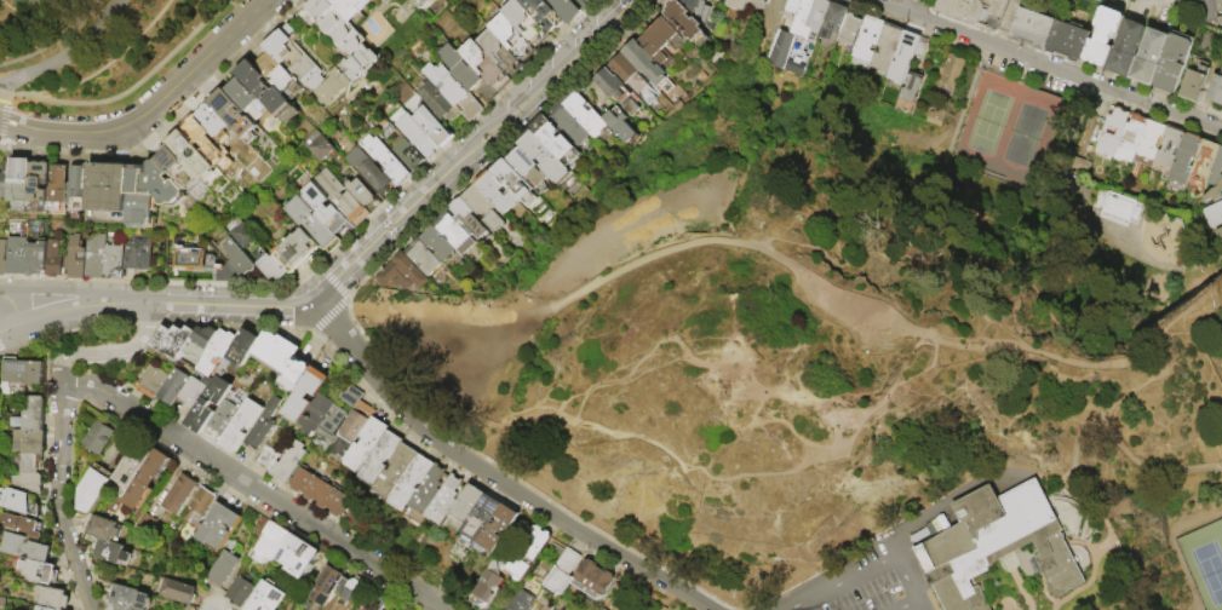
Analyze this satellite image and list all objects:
building: (1090, 0)
building: (1100, 0)
road: (8, 2)
building: (425, 4)
building: (738, 4)
building: (757, 4)
building: (698, 7)
road: (911, 7)
building: (350, 8)
building: (567, 8)
building: (790, 10)
building: (1195, 10)
building: (1207, 10)
building: (975, 11)
building: (1218, 11)
building: (543, 13)
building: (773, 13)
building: (524, 21)
building: (683, 21)
building: (832, 21)
building: (331, 24)
building: (1032, 29)
building: (849, 31)
building: (511, 35)
building: (796, 35)
building: (1101, 36)
road: (56, 41)
building: (1067, 41)
building: (662, 42)
building: (865, 42)
building: (885, 46)
park: (97, 50)
building: (1123, 50)
building: (498, 51)
road: (69, 54)
building: (905, 56)
building: (1147, 58)
road: (115, 59)
building: (296, 59)
building: (357, 62)
building: (1172, 63)
building: (483, 64)
road: (1044, 64)
building: (646, 65)
building: (950, 70)
building: (466, 73)
building: (279, 75)
building: (630, 77)
road: (150, 79)
building: (1194, 85)
building: (332, 86)
building: (453, 90)
building: (907, 90)
building: (265, 91)
building: (615, 91)
building: (1215, 91)
road: (4, 92)
road: (35, 92)
road: (18, 93)
road: (6, 98)
road: (33, 98)
building: (246, 98)
building: (436, 99)
road: (965, 100)
road: (154, 110)
building: (233, 114)
building: (585, 115)
building: (935, 115)
road: (1, 120)
building: (213, 122)
road: (165, 125)
building: (432, 125)
building: (568, 125)
building: (619, 125)
park: (1005, 127)
road: (1062, 130)
building: (1111, 132)
road: (458, 133)
building: (197, 134)
building: (418, 136)
building: (1129, 139)
building: (553, 140)
building: (1149, 140)
building: (320, 145)
building: (1168, 148)
building: (408, 155)
building: (543, 156)
building: (194, 157)
building: (1183, 159)
building: (386, 160)
building: (1205, 160)
road: (458, 166)
building: (526, 167)
building: (179, 169)
building: (368, 169)
building: (1216, 169)
building: (5, 179)
building: (19, 179)
road: (1012, 183)
building: (512, 184)
building: (39, 188)
building: (58, 189)
building: (78, 190)
building: (150, 191)
building: (1216, 191)
building: (107, 192)
building: (494, 192)
building: (362, 194)
building: (340, 196)
building: (322, 206)
building: (1115, 206)
building: (482, 208)
building: (1211, 213)
building: (466, 219)
building: (310, 223)
building: (239, 232)
building: (453, 234)
building: (1217, 236)
building: (436, 243)
building: (294, 249)
building: (137, 251)
building: (17, 254)
building: (94, 255)
building: (76, 257)
building: (114, 257)
building: (423, 257)
building: (2, 258)
building: (235, 258)
building: (36, 259)
building: (53, 259)
building: (194, 259)
building: (270, 265)
road: (633, 265)
road: (1164, 265)
building: (400, 271)
street lamp: (1201, 272)
road: (161, 281)
road: (333, 282)
road: (69, 290)
road: (145, 303)
road: (12, 306)
road: (329, 312)
road: (1051, 320)
road: (145, 322)
road: (159, 323)
road: (10, 327)
road: (64, 330)
park: (839, 333)
building: (172, 340)
building: (200, 341)
road: (344, 350)
road: (108, 351)
building: (241, 351)
park: (472, 351)
building: (216, 352)
building: (275, 352)
road: (649, 366)
road: (1165, 367)
road: (658, 368)
road: (361, 369)
road: (428, 369)
road: (741, 370)
building: (22, 374)
building: (296, 374)
road: (638, 376)
building: (151, 381)
building: (1, 386)
building: (172, 386)
building: (194, 390)
building: (305, 393)
building: (0, 397)
building: (207, 403)
building: (317, 414)
building: (31, 416)
building: (222, 418)
building: (333, 424)
building: (241, 425)
building: (260, 430)
building: (351, 432)
building: (98, 437)
building: (29, 442)
road: (155, 443)
road: (1077, 443)
building: (366, 445)
road: (828, 445)
road: (431, 453)
road: (201, 454)
building: (266, 457)
building: (381, 457)
building: (288, 460)
building: (30, 464)
building: (132, 464)
road: (1153, 464)
building: (396, 472)
road: (492, 477)
road: (770, 477)
road: (515, 478)
building: (147, 479)
road: (1055, 479)
building: (413, 482)
building: (25, 484)
road: (975, 484)
road: (1066, 484)
building: (93, 489)
building: (429, 489)
building: (320, 491)
building: (179, 494)
road: (45, 499)
building: (15, 500)
road: (59, 500)
building: (444, 500)
building: (201, 502)
road: (526, 506)
building: (465, 507)
road: (1080, 508)
road: (1059, 512)
building: (482, 517)
road: (1061, 522)
building: (145, 524)
building: (218, 525)
building: (21, 528)
building: (103, 528)
building: (498, 529)
road: (1094, 529)
road: (573, 535)
building: (272, 540)
road: (900, 542)
building: (994, 543)
road: (1171, 543)
road: (1101, 546)
road: (1090, 547)
building: (24, 548)
building: (110, 549)
building: (530, 552)
building: (298, 554)
road: (597, 554)
building: (258, 556)
park: (1204, 562)
road: (625, 565)
building: (222, 568)
building: (38, 571)
building: (562, 572)
road: (907, 575)
road: (391, 576)
building: (593, 579)
parking lot: (861, 580)
road: (839, 581)
road: (1017, 582)
building: (326, 585)
building: (486, 586)
building: (348, 587)
road: (919, 588)
building: (240, 591)
building: (178, 592)
road: (1045, 594)
building: (52, 598)
building: (131, 598)
building: (265, 598)
road: (930, 600)
building: (378, 602)
building: (521, 602)
road: (908, 604)
road: (923, 604)
road: (991, 604)
building: (189, 606)
building: (122, 608)
building: (601, 608)
road: (1010, 608)
building: (42, 609)
building: (597, 609)

